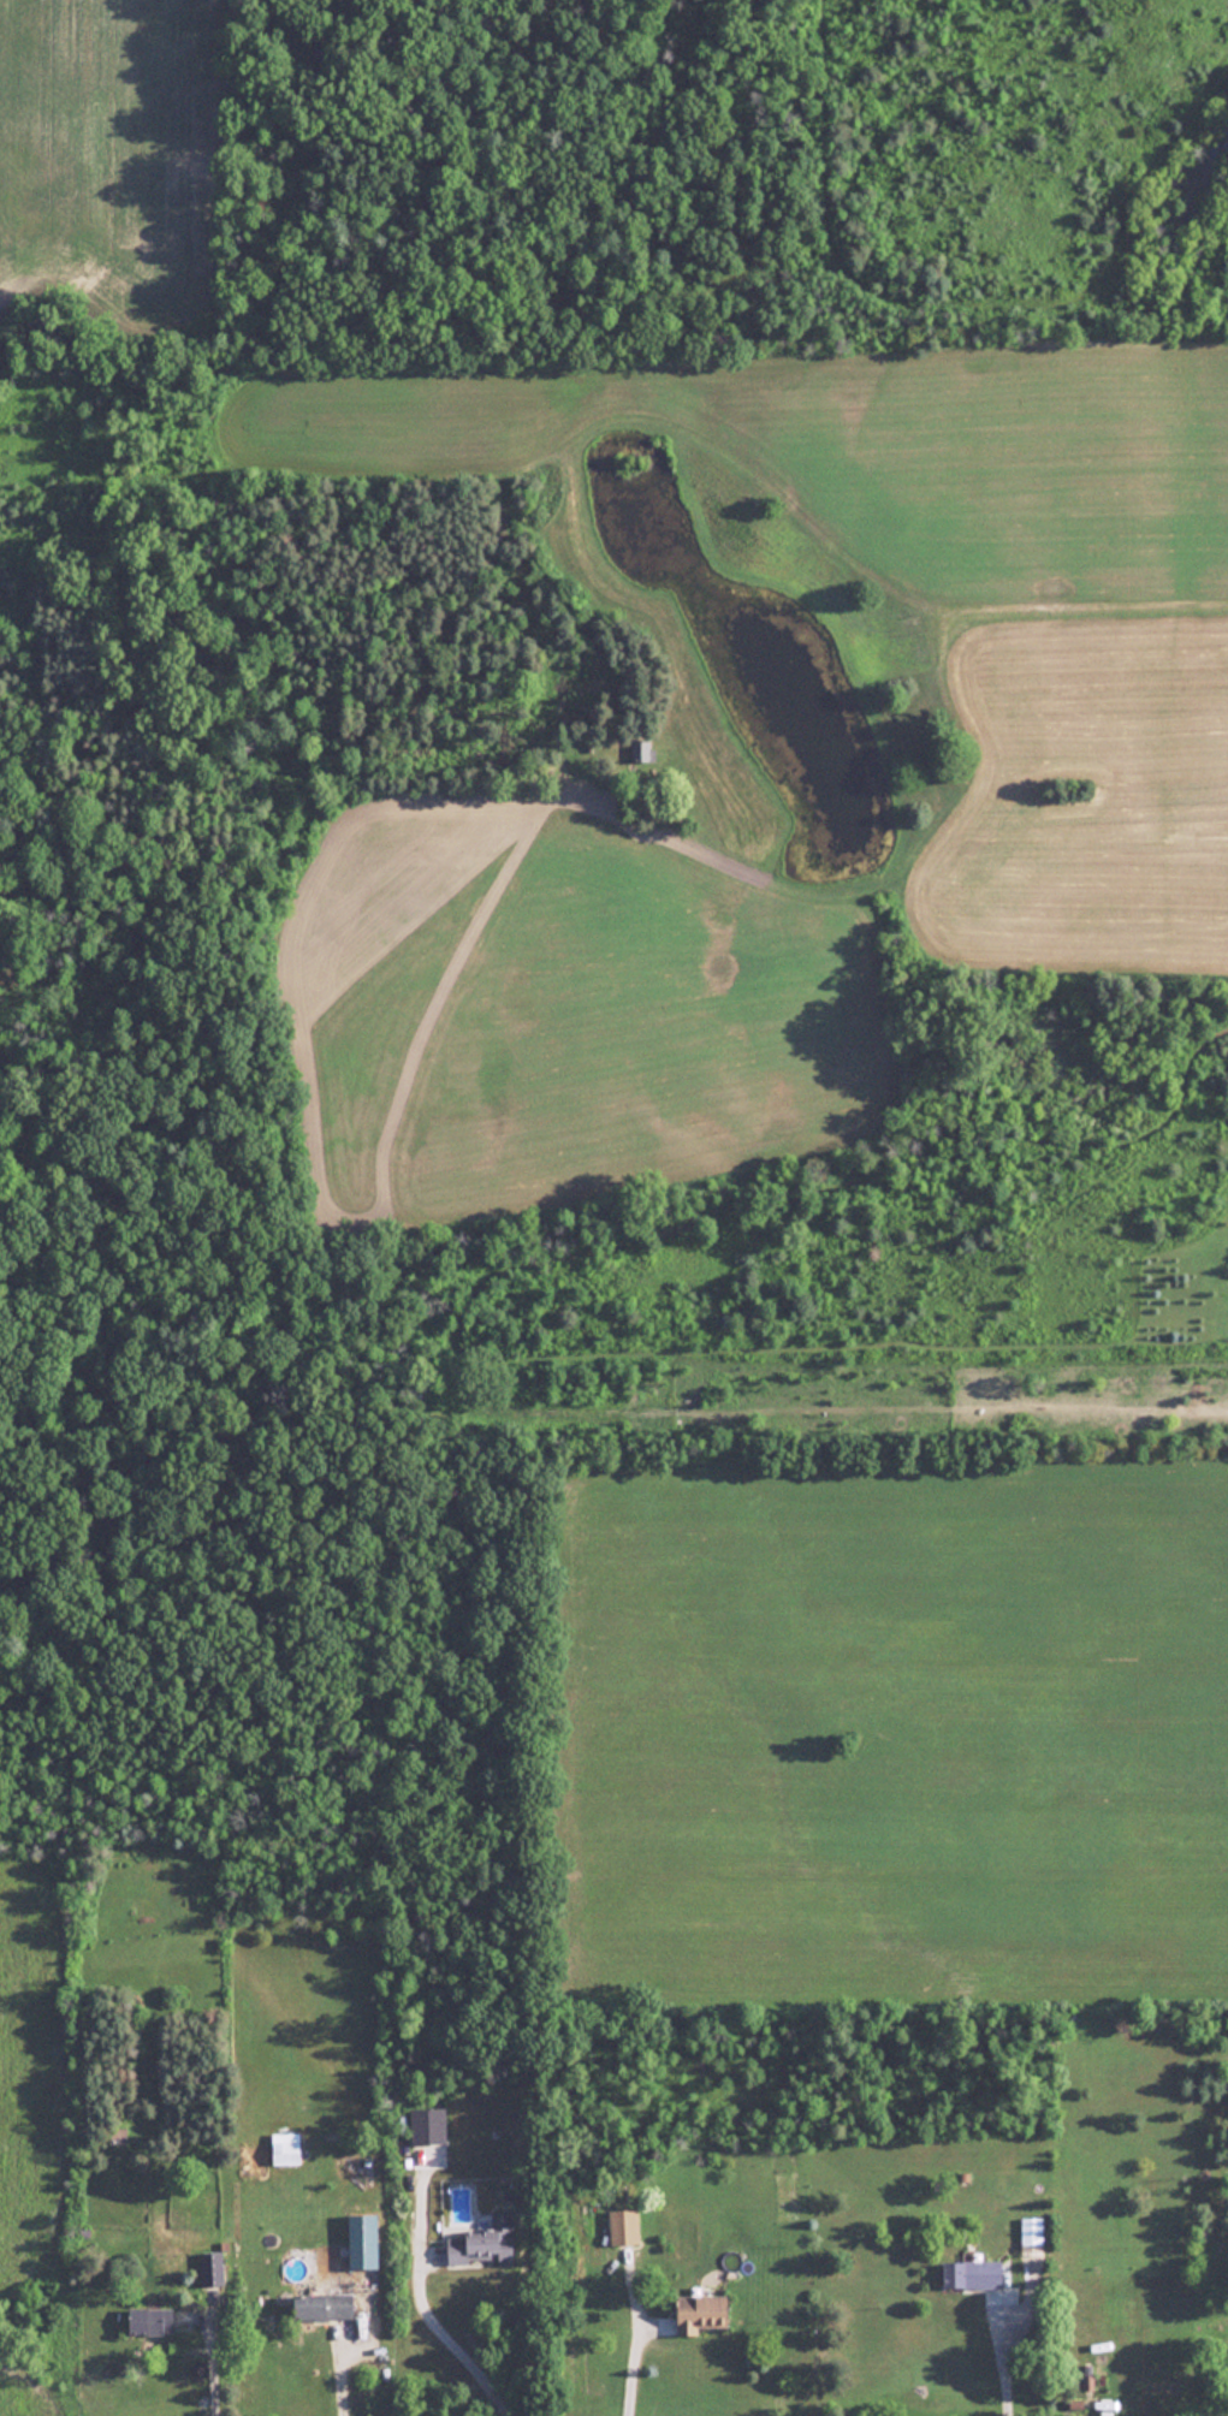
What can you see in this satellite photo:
building: (639, 750)
building: (425, 2125)
building: (283, 2148)
building: (621, 2226)
building: (1028, 2236)
building: (361, 2240)
building: (481, 2242)
building: (209, 2268)
building: (969, 2274)
building: (320, 2305)
building: (698, 2313)
building: (147, 2321)
road: (446, 2338)
road: (999, 2358)
road: (630, 2372)
road: (209, 2374)
road: (340, 2381)

